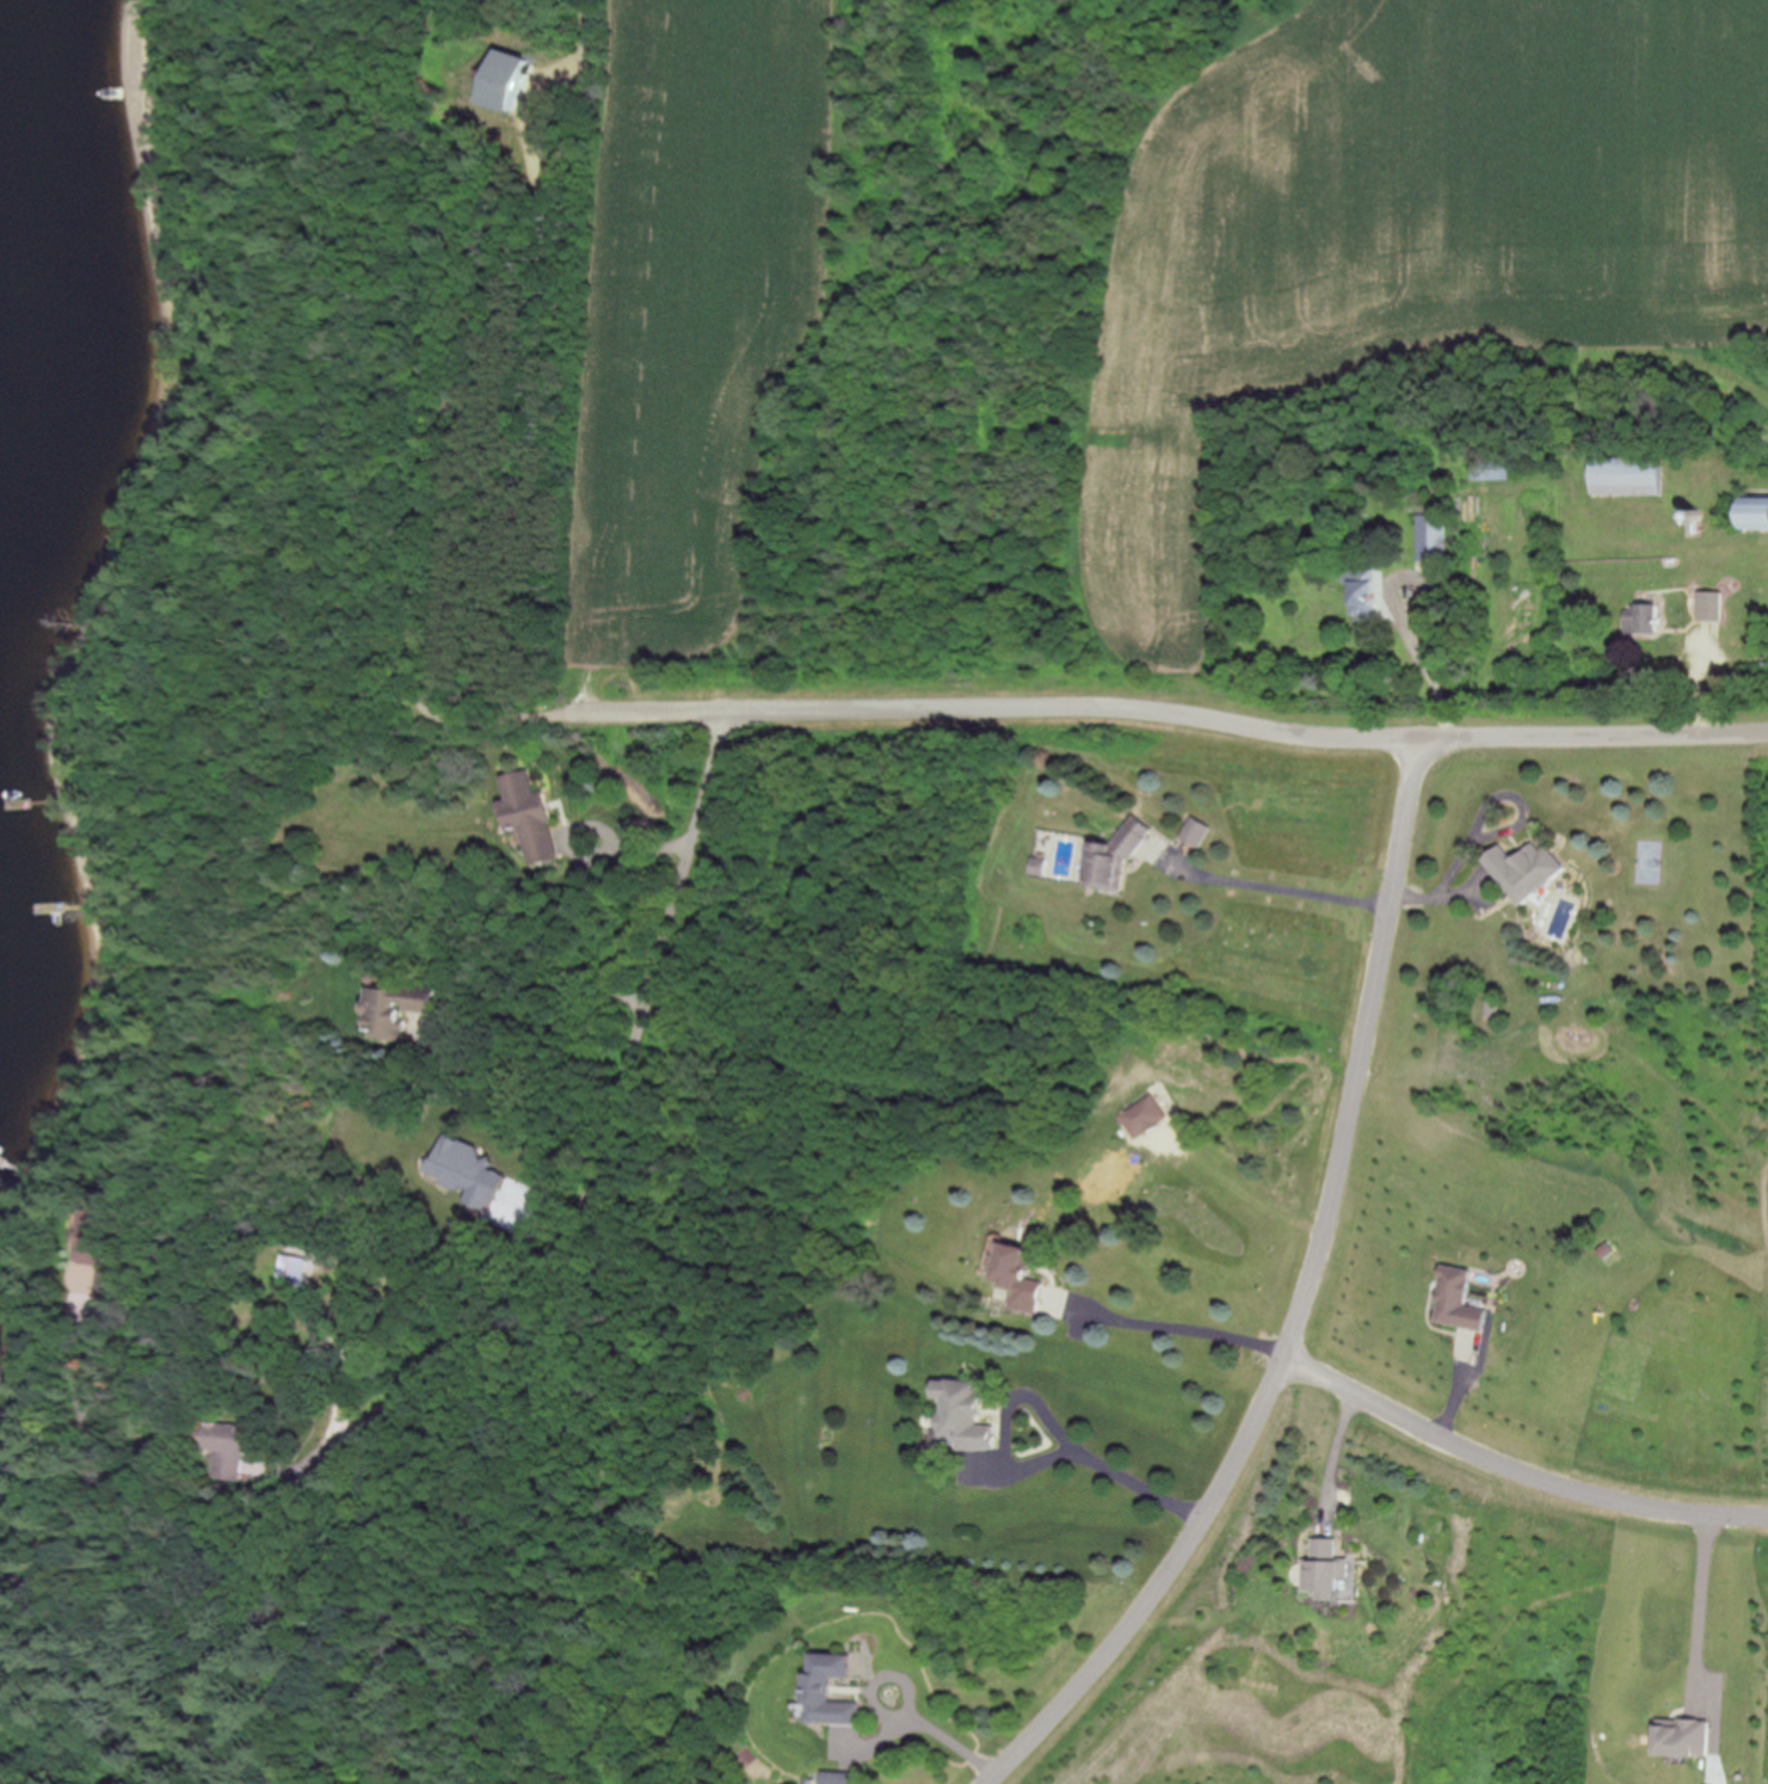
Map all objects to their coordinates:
crop: (1398, 245)
crop: (684, 333)
road: (1425, 672)
road: (1170, 712)
building: (528, 819)
road: (592, 854)
road: (1270, 887)
road: (534, 1001)
building: (388, 1017)
road: (618, 1094)
road: (1244, 1195)
building: (103, 1241)
building: (295, 1272)
road: (1307, 1306)
road: (1175, 1328)
building: (235, 1438)
road: (1333, 1454)
road: (1520, 1471)
road: (1121, 1472)
road: (170, 1607)
road: (1699, 1610)
road: (942, 1737)

